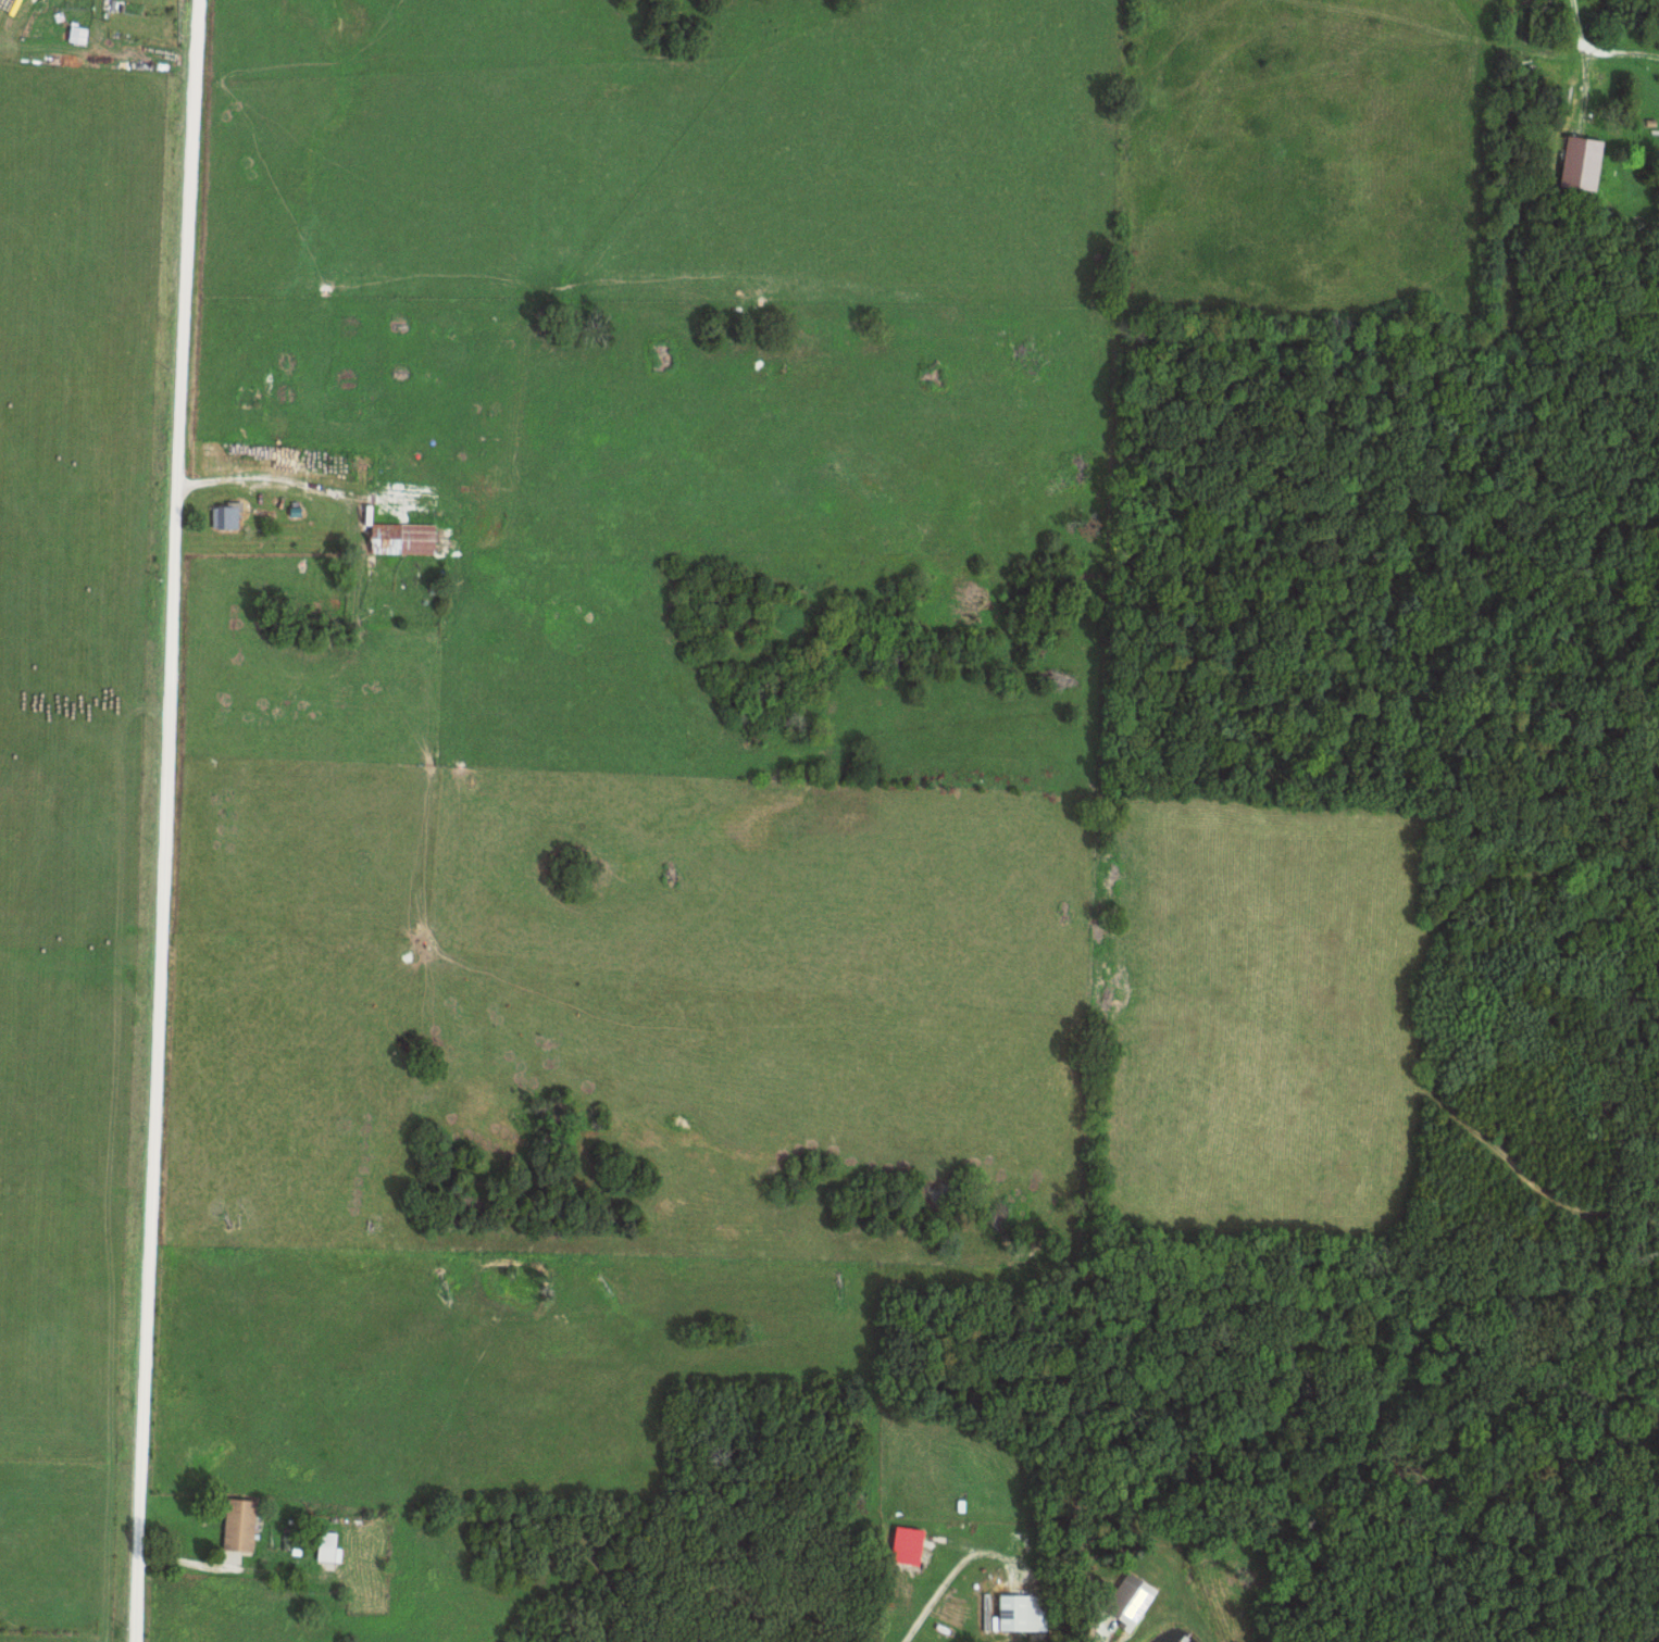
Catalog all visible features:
road: (1570, 91)
building: (226, 515)
building: (408, 534)
road: (169, 820)
building: (241, 1524)
building: (918, 1564)
building: (378, 1597)
building: (1026, 1610)
road: (1038, 1638)

